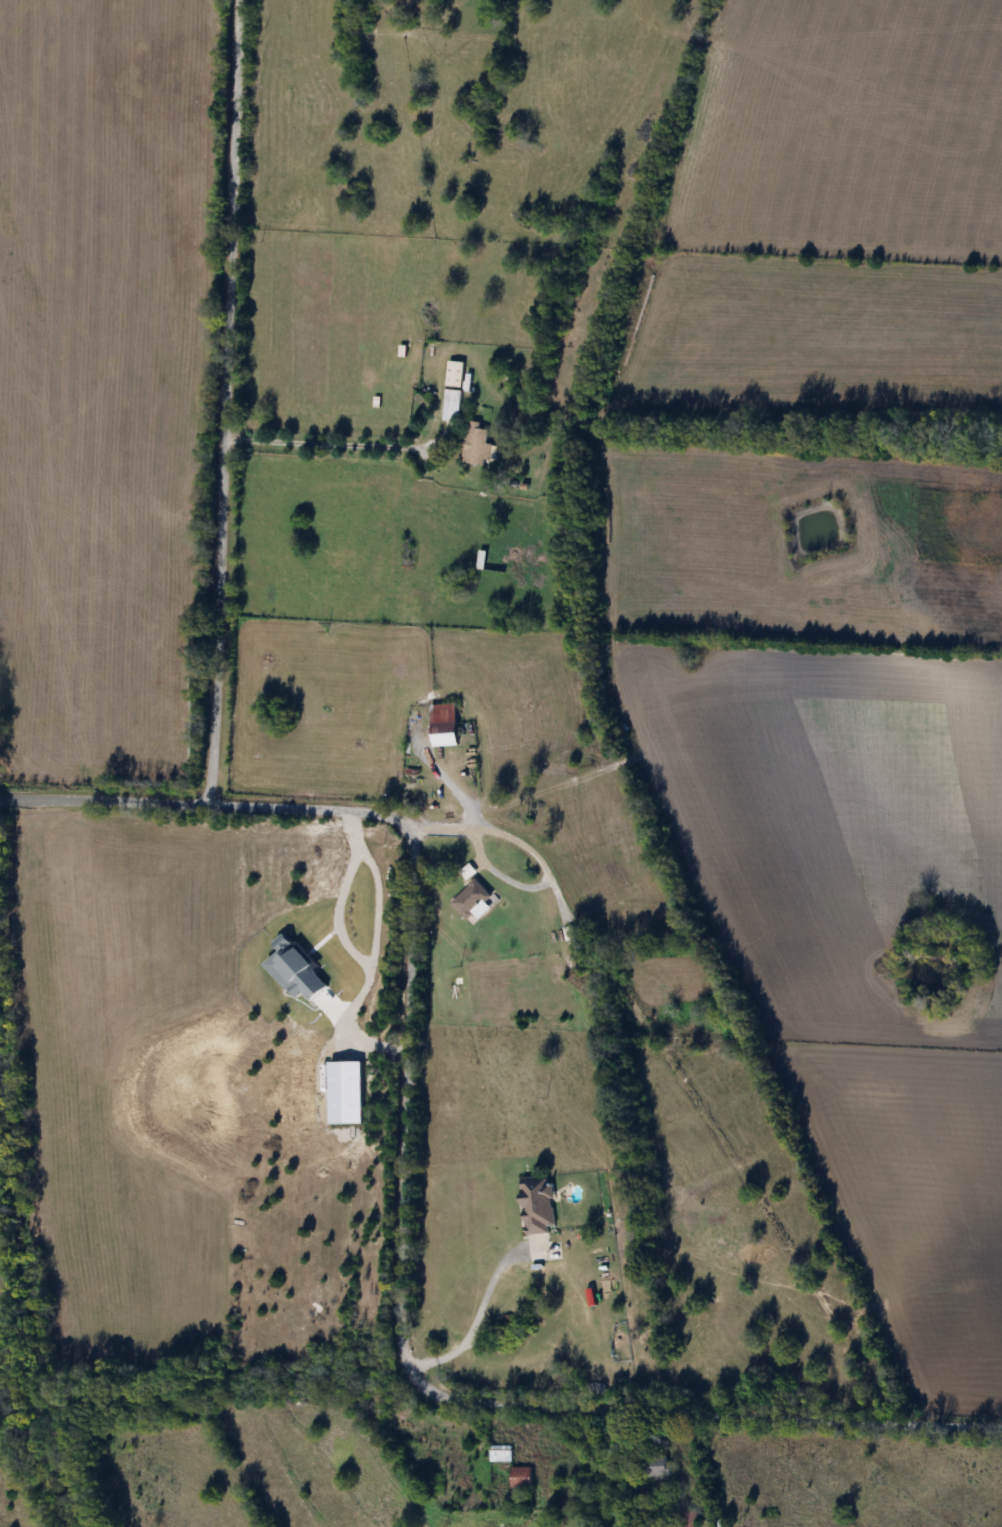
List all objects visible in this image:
road: (390, 4)
building: (450, 390)
road: (225, 402)
road: (327, 441)
building: (474, 443)
building: (440, 727)
road: (439, 779)
road: (505, 835)
building: (465, 872)
building: (468, 899)
road: (377, 902)
building: (627, 931)
building: (567, 934)
road: (355, 951)
road: (400, 1195)
road: (479, 1311)
building: (498, 1454)
building: (652, 1466)
building: (518, 1477)
building: (686, 1518)

